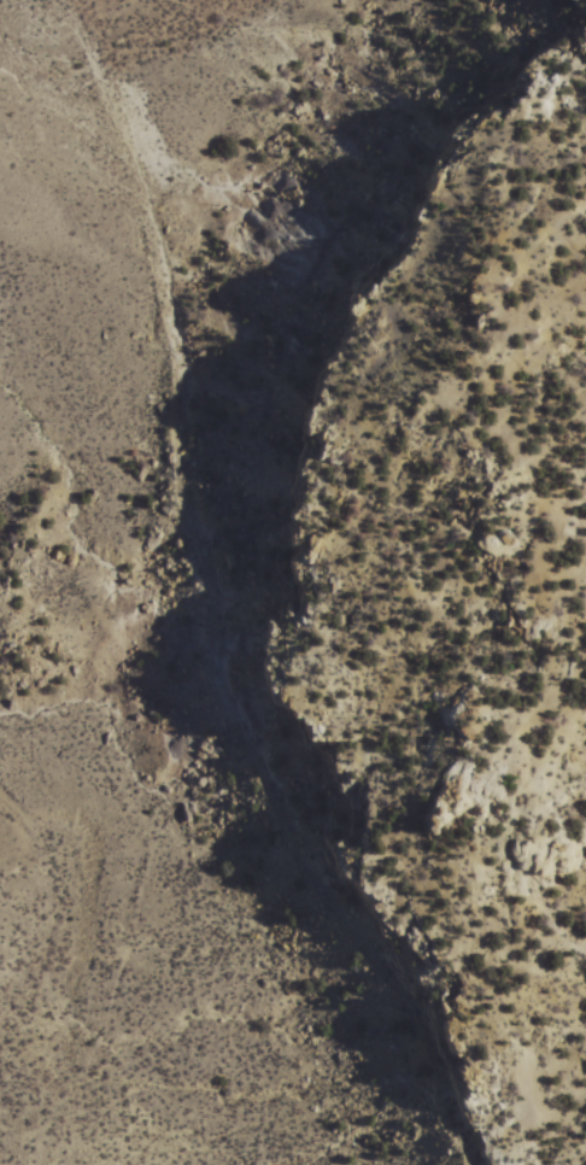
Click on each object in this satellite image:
road: (221, 650)

